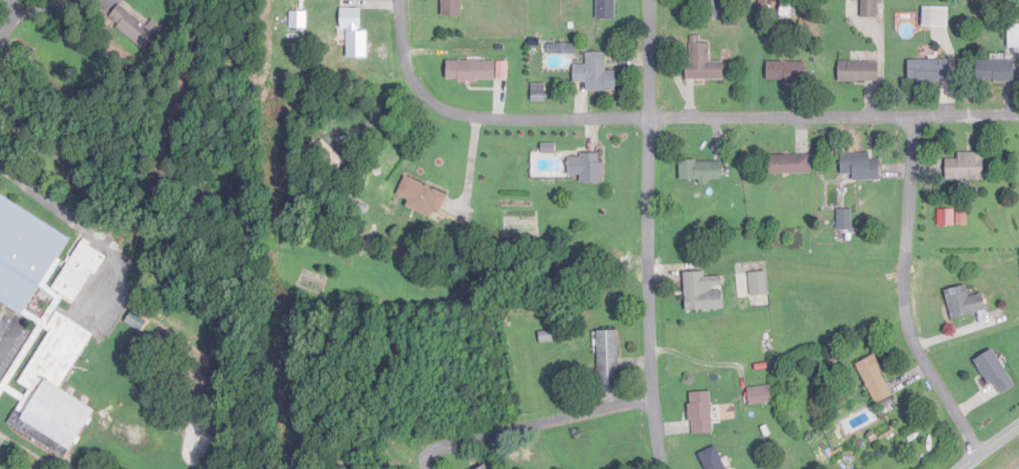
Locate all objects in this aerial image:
building: (451, 8)
building: (714, 8)
building: (870, 8)
building: (606, 10)
building: (936, 17)
road: (7, 19)
building: (298, 20)
building: (135, 27)
building: (355, 33)
building: (1013, 37)
building: (703, 62)
building: (505, 67)
building: (471, 71)
building: (929, 71)
building: (995, 71)
building: (786, 72)
building: (858, 72)
building: (596, 74)
road: (834, 117)
road: (476, 121)
building: (788, 164)
building: (860, 167)
building: (966, 167)
building: (586, 168)
building: (701, 171)
building: (422, 199)
road: (68, 218)
building: (946, 218)
building: (845, 220)
road: (650, 235)
building: (25, 255)
building: (80, 272)
building: (759, 284)
building: (703, 292)
road: (907, 294)
building: (964, 302)
building: (609, 358)
building: (996, 372)
building: (875, 379)
building: (54, 390)
building: (760, 396)
building: (701, 413)
road: (534, 424)
road: (989, 447)
building: (485, 467)

